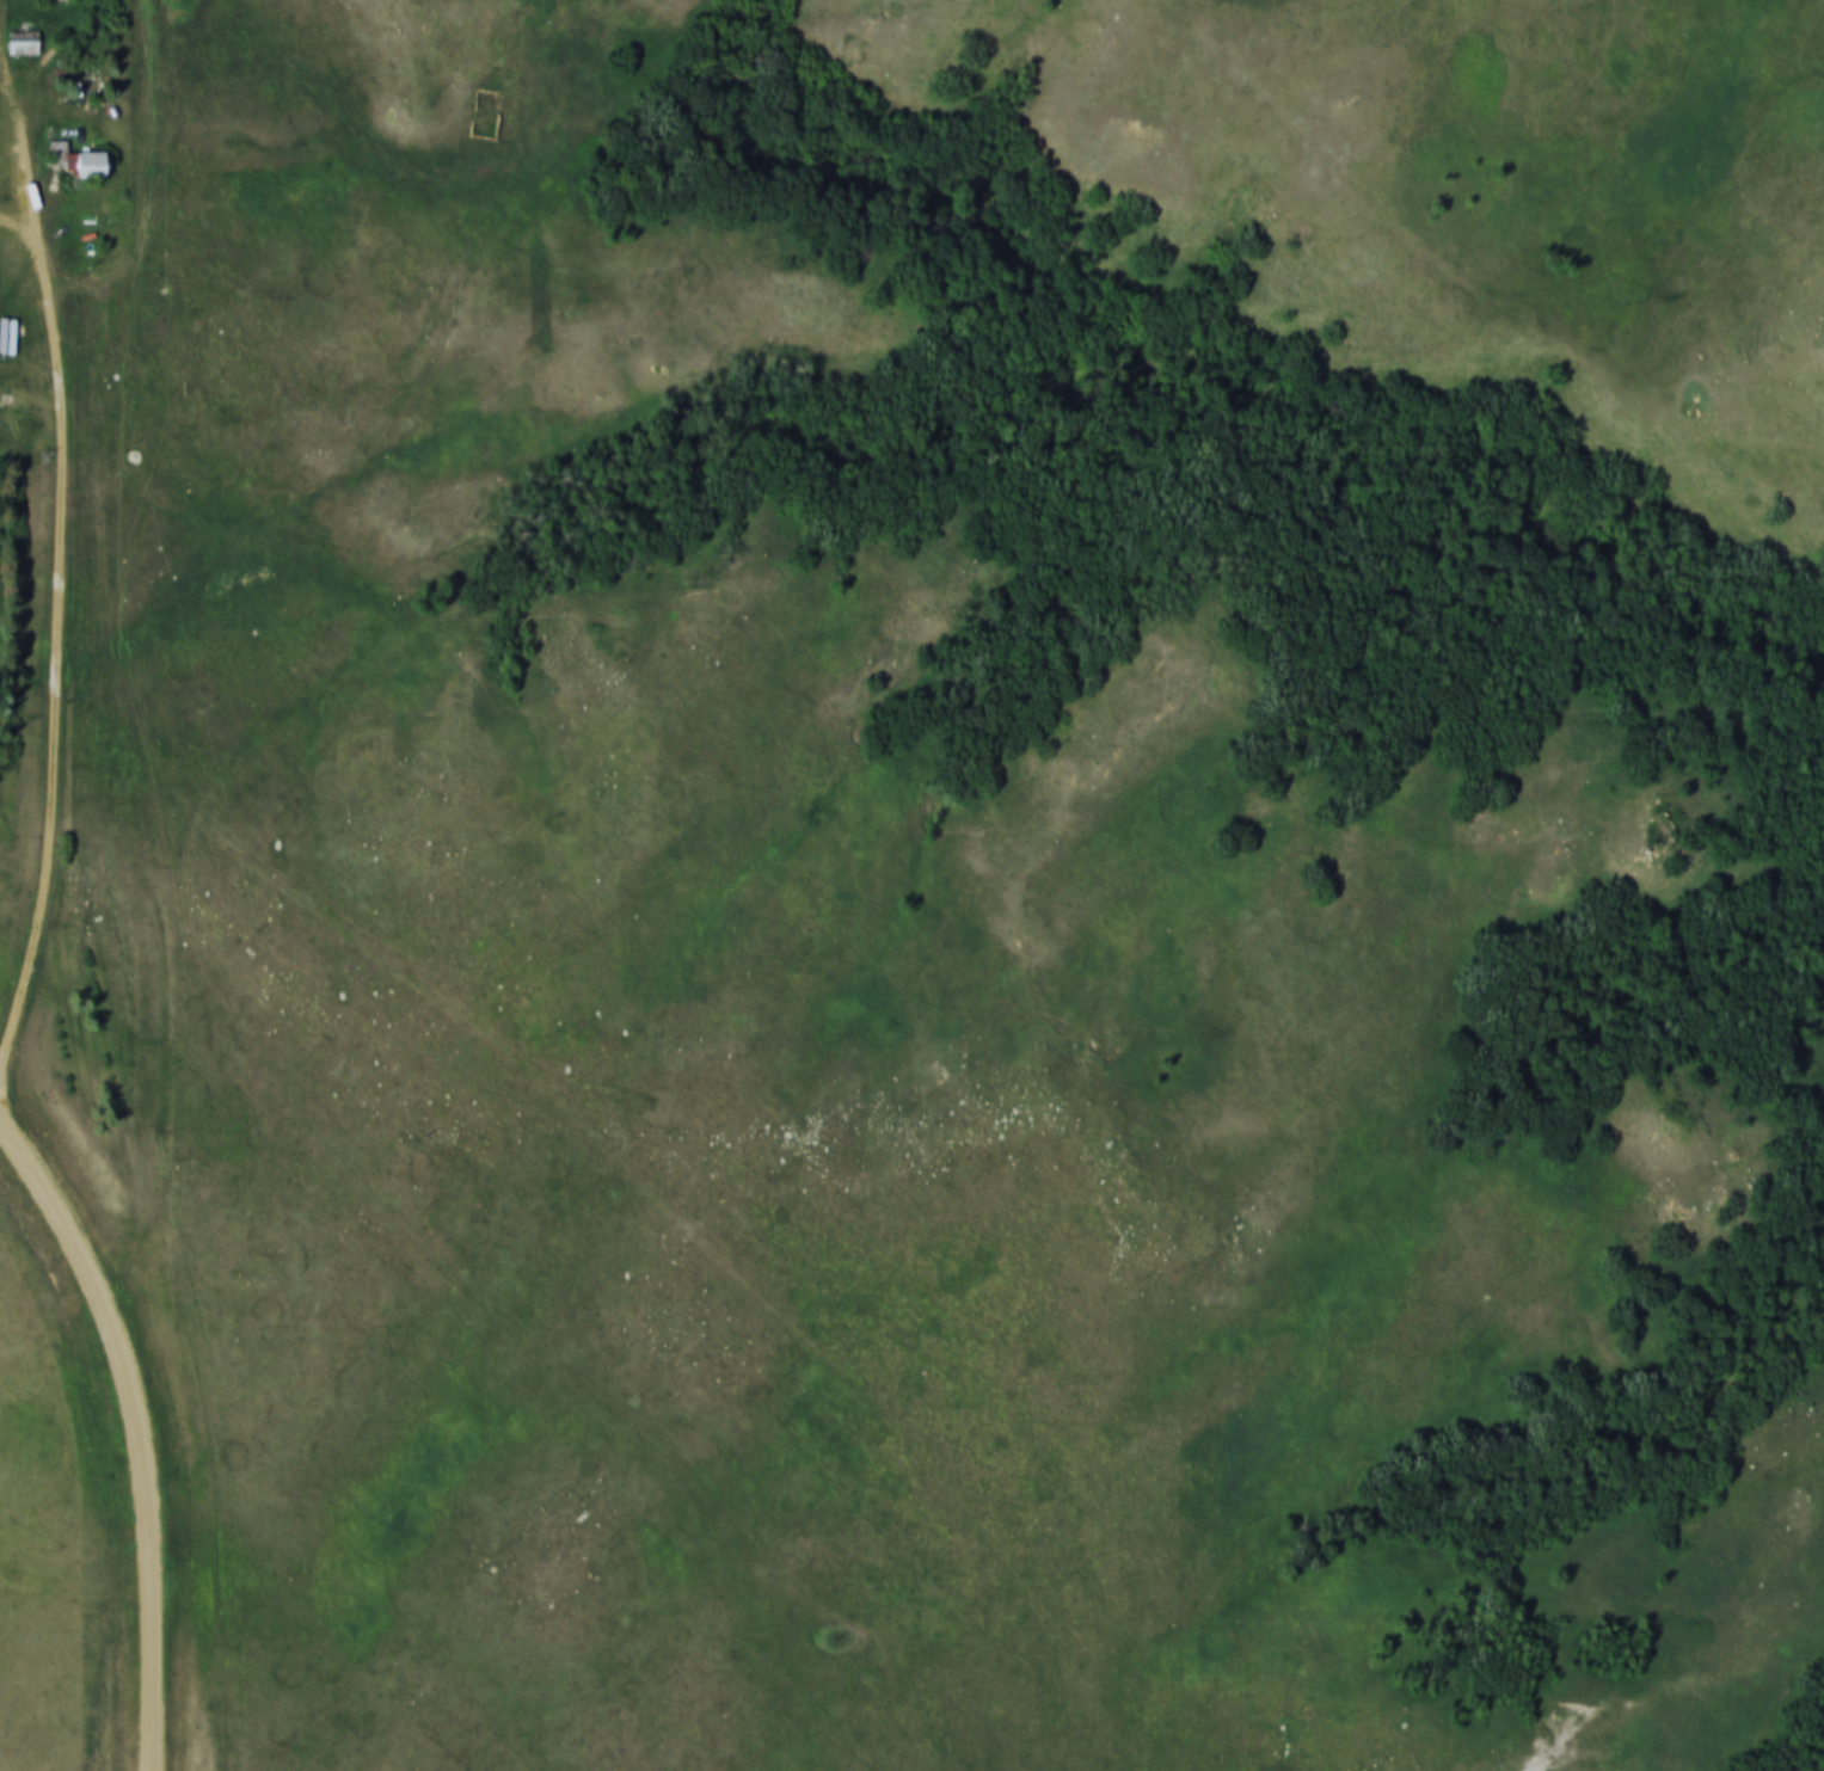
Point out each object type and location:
building: (30, 42)
road: (7, 76)
building: (93, 165)
road: (20, 232)
road: (62, 585)
road: (140, 1033)
road: (139, 1428)

